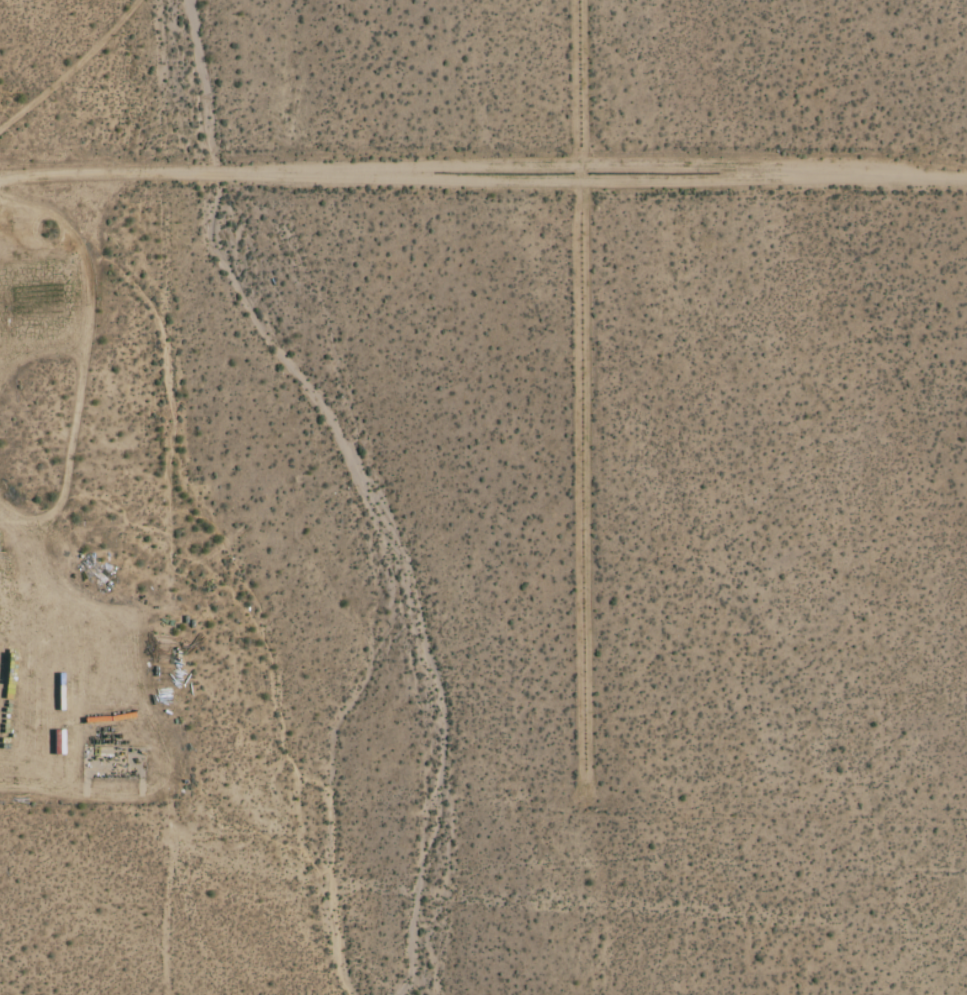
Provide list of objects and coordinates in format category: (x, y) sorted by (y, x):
road: (71, 63)
road: (483, 174)
road: (586, 385)

